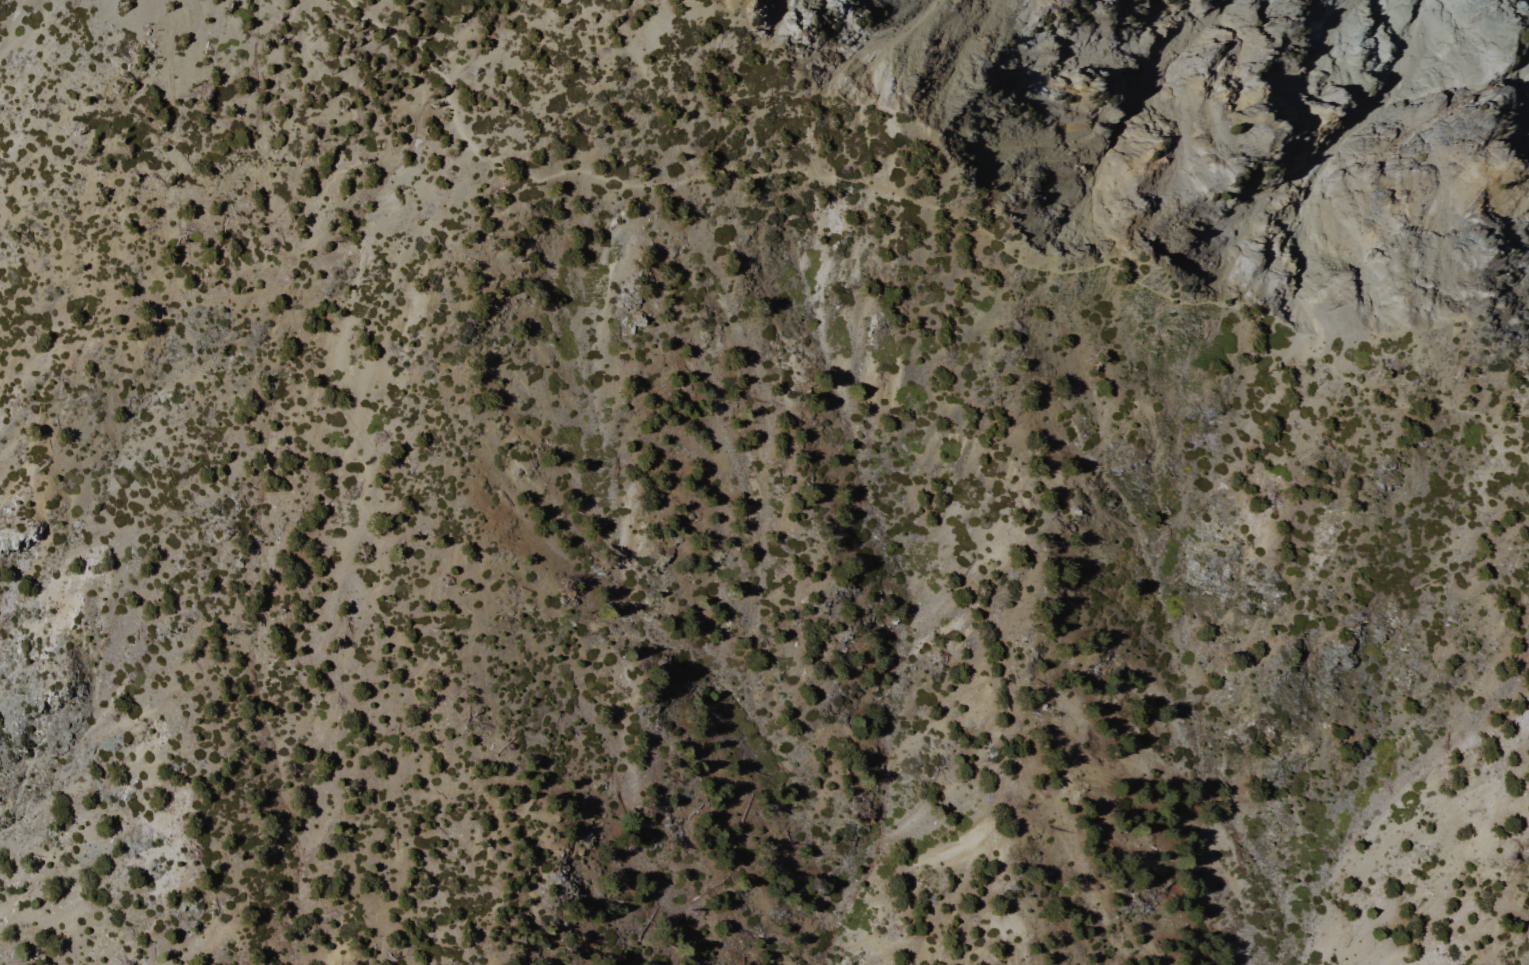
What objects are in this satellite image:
road: (838, 104)
road: (928, 206)
road: (361, 467)

